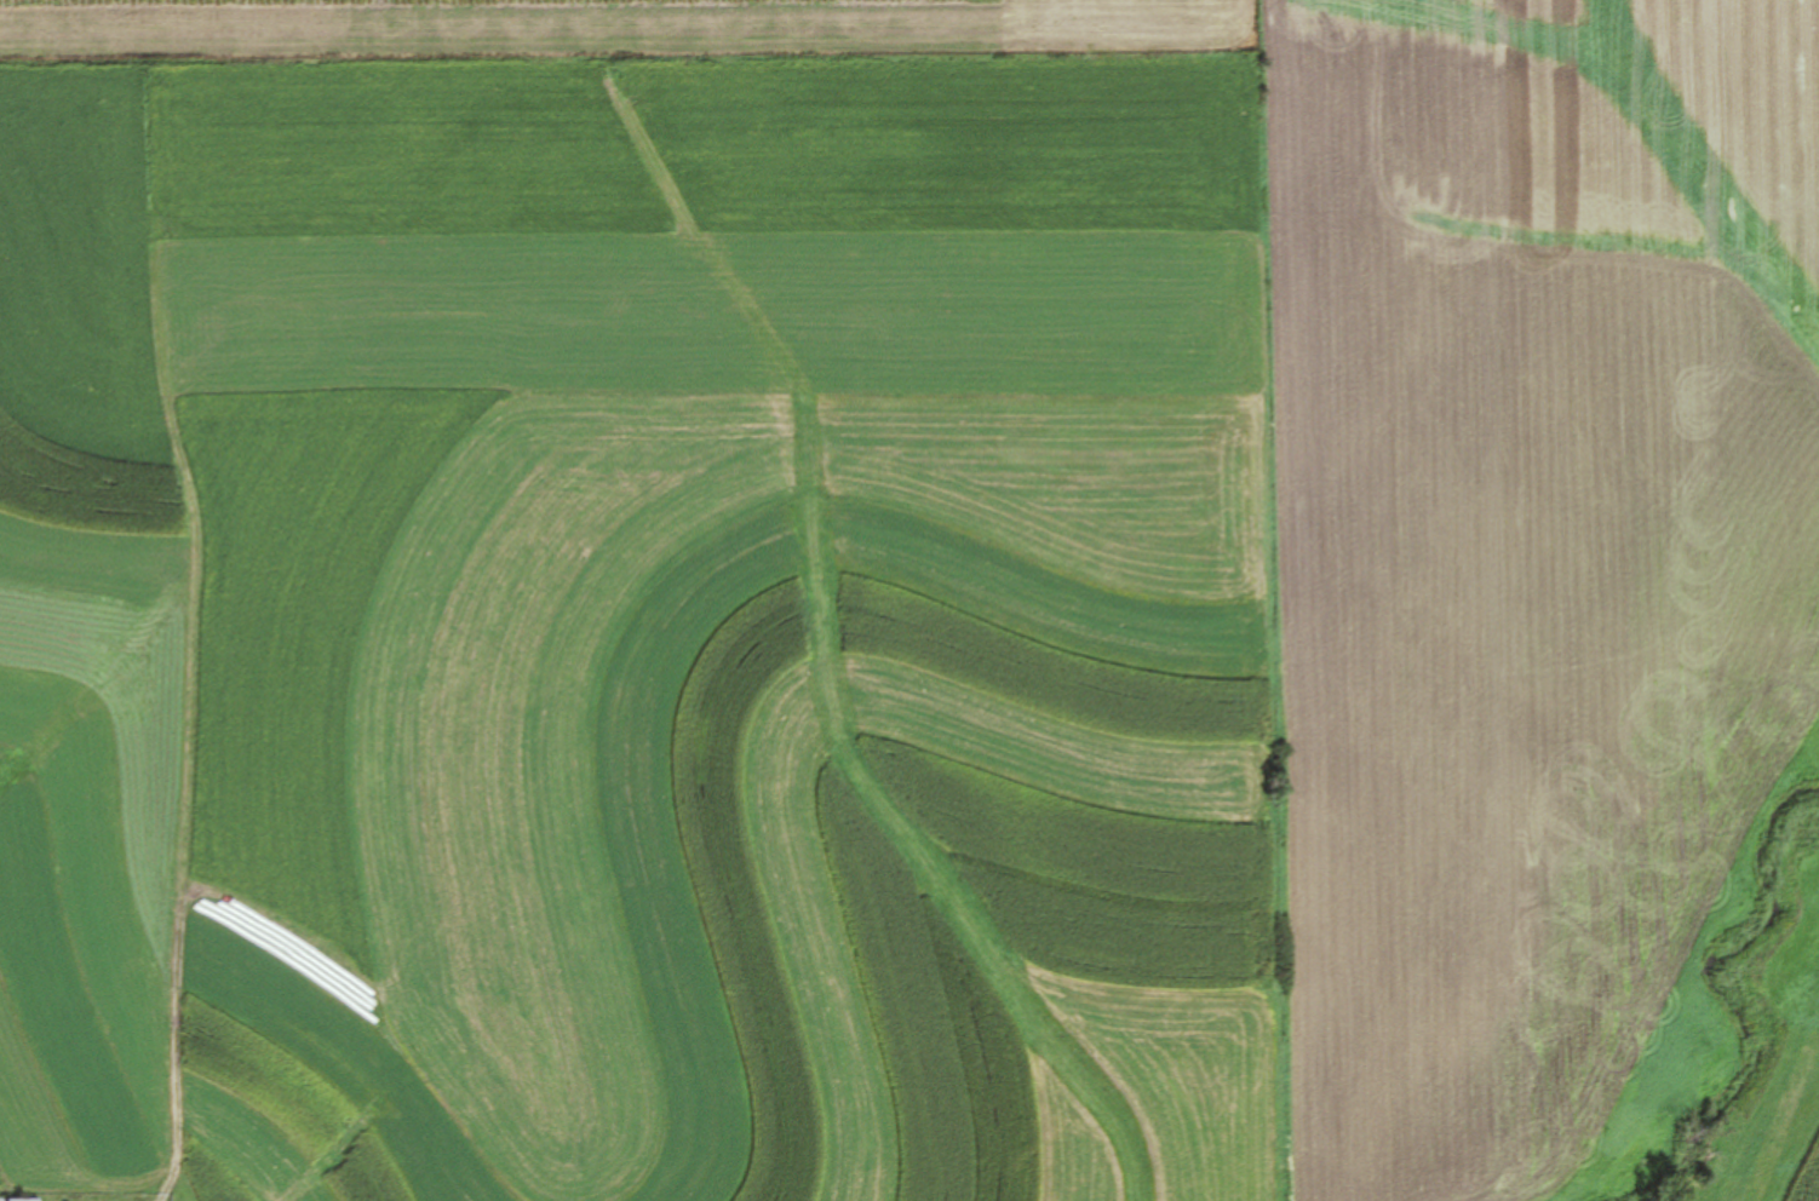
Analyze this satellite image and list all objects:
building: (19, 1199)

